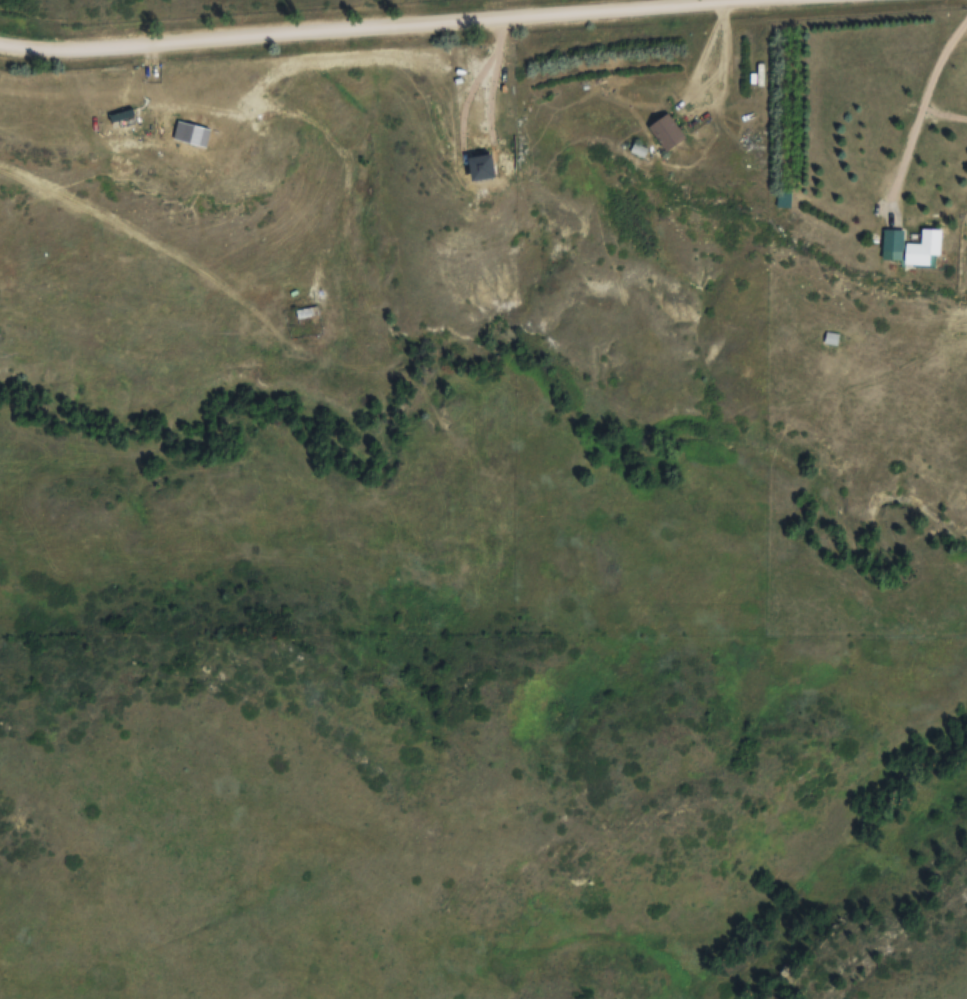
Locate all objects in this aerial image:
road: (399, 27)
road: (922, 105)
building: (668, 129)
building: (473, 170)
building: (892, 244)
building: (918, 252)
building: (306, 312)
building: (831, 339)

